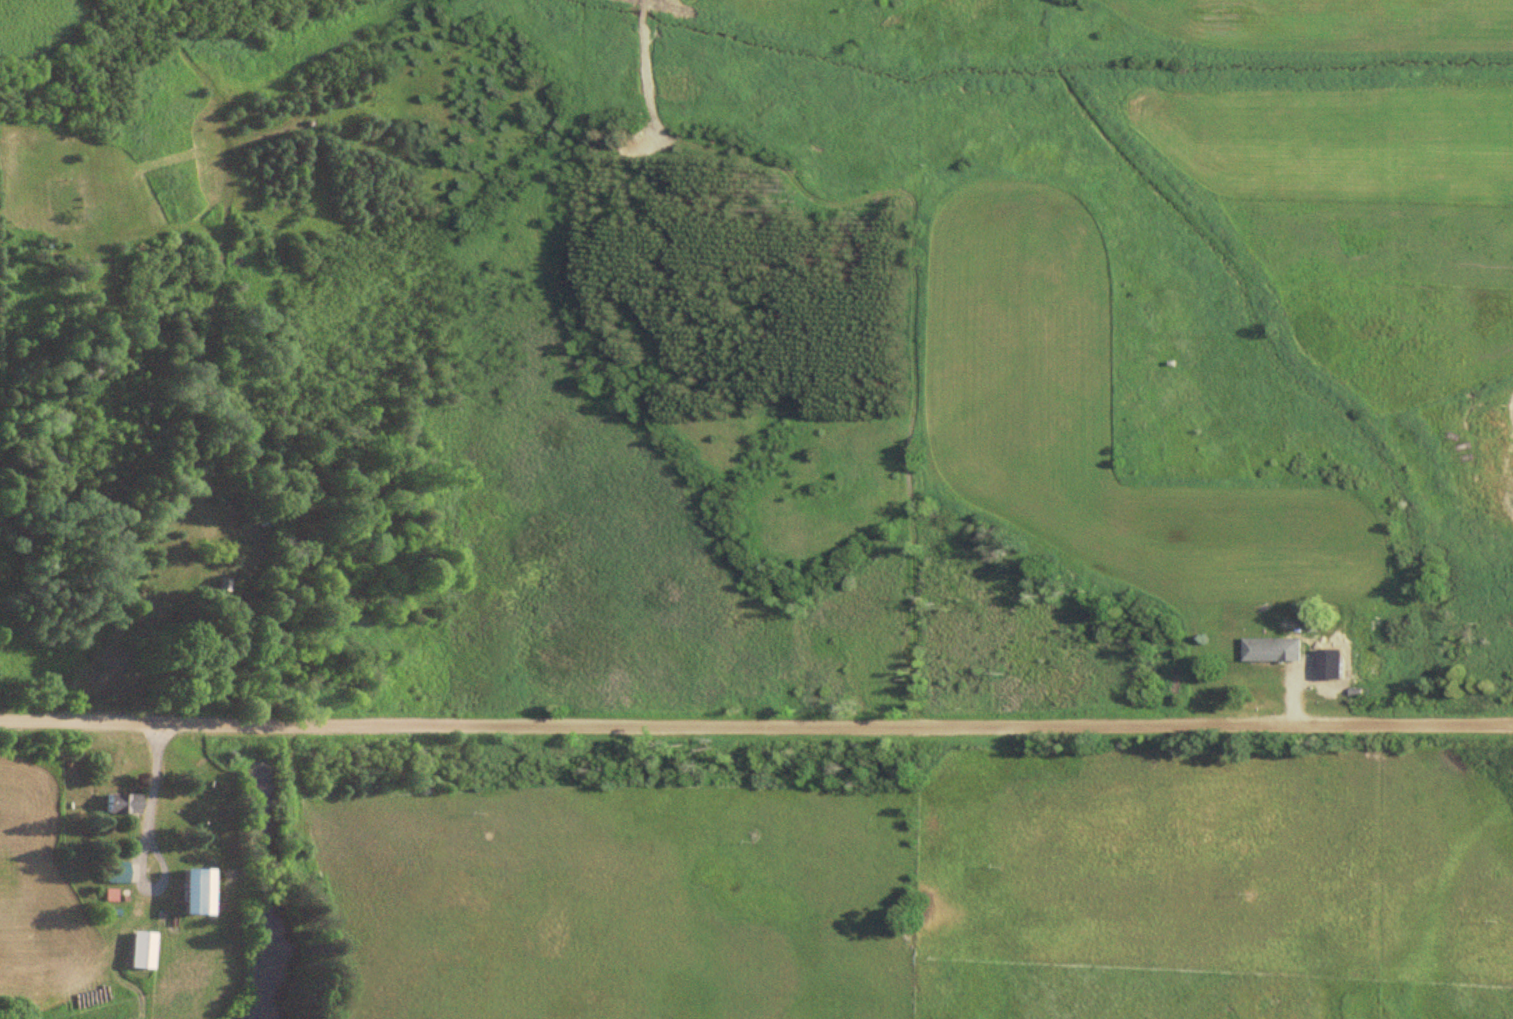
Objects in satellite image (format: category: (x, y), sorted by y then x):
building: (1275, 649)
road: (756, 723)
building: (125, 803)
building: (121, 872)
building: (203, 891)
building: (146, 950)

